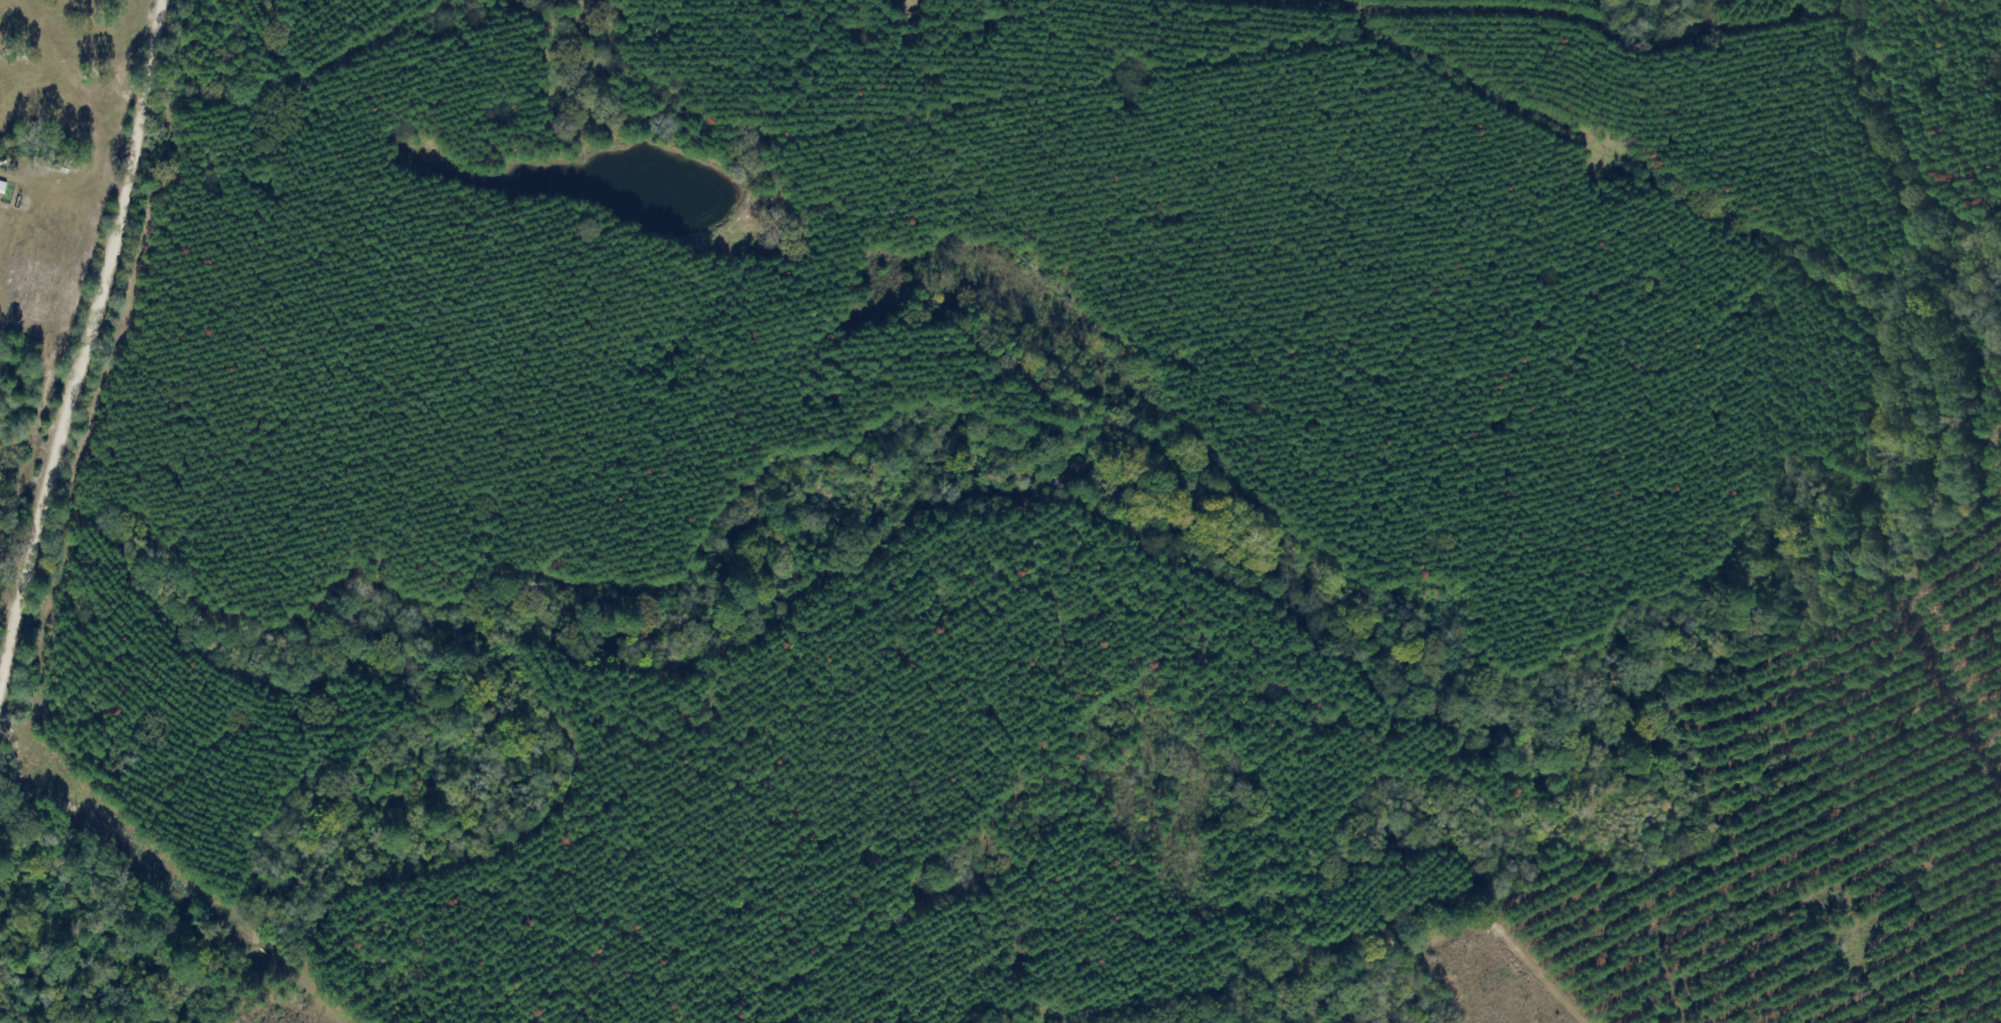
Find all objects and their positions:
road: (75, 329)
road: (24, 1017)

